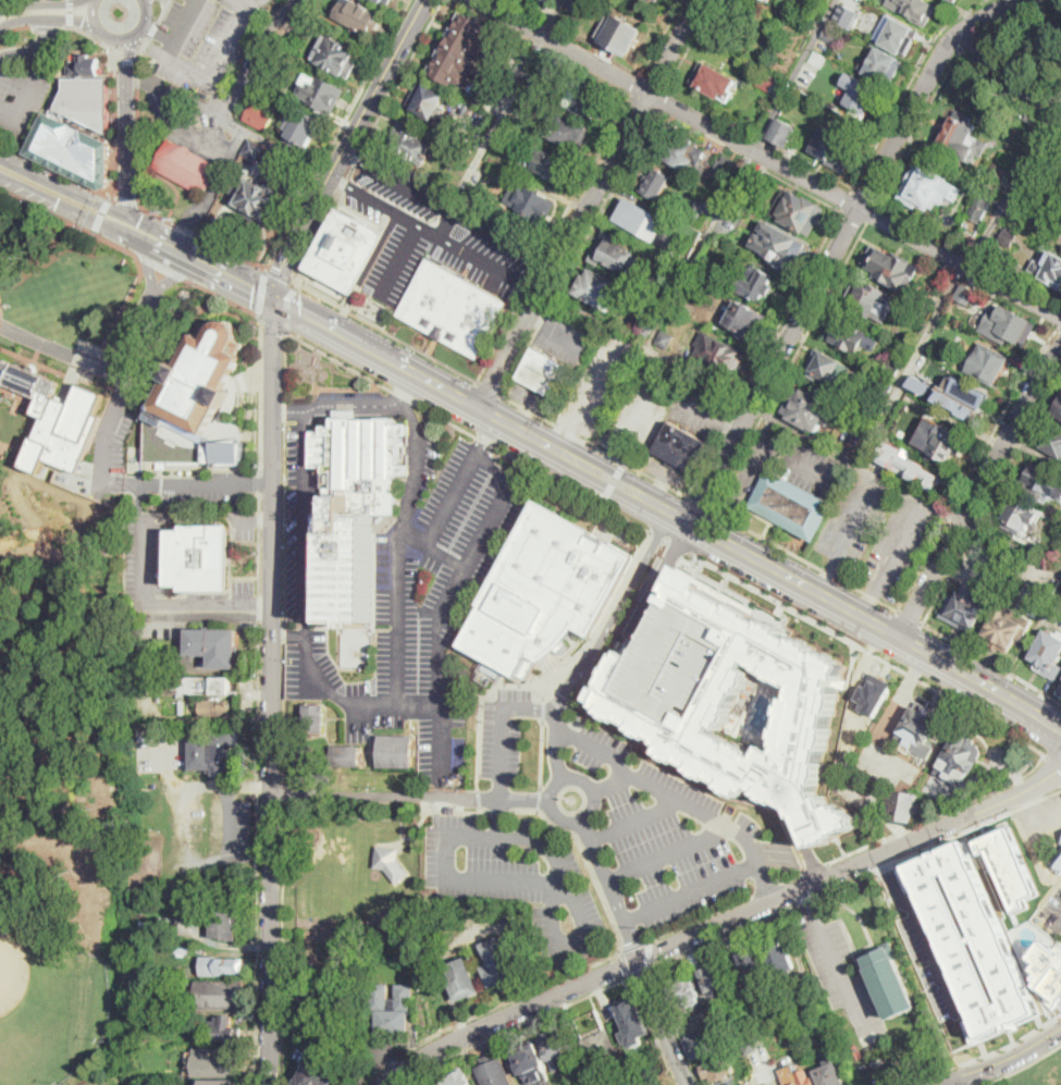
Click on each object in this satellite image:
road: (1, 0)
road: (248, 0)
building: (656, 0)
building: (770, 0)
building: (386, 1)
building: (548, 1)
building: (652, 1)
building: (825, 1)
building: (955, 1)
road: (47, 2)
road: (166, 2)
building: (573, 3)
road: (42, 4)
building: (305, 7)
building: (914, 10)
road: (164, 11)
road: (71, 13)
building: (357, 15)
road: (552, 17)
road: (47, 19)
building: (841, 21)
road: (47, 27)
road: (16, 28)
road: (153, 29)
road: (160, 33)
building: (898, 34)
building: (621, 35)
building: (830, 35)
park: (989, 35)
road: (47, 36)
road: (662, 36)
road: (1001, 37)
road: (96, 38)
road: (120, 39)
road: (689, 44)
park: (1040, 48)
road: (129, 51)
building: (464, 51)
road: (21, 57)
building: (338, 58)
building: (817, 59)
road: (257, 60)
road: (138, 61)
road: (126, 62)
building: (85, 65)
building: (884, 66)
road: (199, 72)
road: (793, 75)
road: (942, 75)
road: (1000, 76)
building: (270, 77)
road: (140, 79)
building: (714, 81)
building: (542, 82)
building: (766, 82)
road: (636, 84)
parking lot: (26, 86)
road: (905, 87)
building: (320, 94)
building: (862, 95)
road: (25, 98)
building: (588, 98)
building: (86, 99)
road: (661, 99)
building: (427, 101)
building: (465, 107)
building: (259, 118)
building: (303, 127)
building: (569, 132)
road: (115, 133)
road: (336, 133)
building: (782, 133)
building: (962, 138)
road: (366, 140)
road: (127, 141)
building: (409, 144)
road: (137, 146)
road: (346, 147)
road: (289, 149)
building: (678, 149)
building: (835, 149)
building: (255, 150)
building: (73, 151)
road: (232, 151)
building: (460, 156)
road: (769, 159)
building: (1059, 163)
building: (186, 165)
building: (547, 165)
building: (726, 168)
road: (59, 172)
building: (998, 177)
building: (754, 180)
road: (1014, 182)
building: (656, 183)
road: (799, 186)
building: (926, 188)
road: (864, 196)
building: (1025, 196)
building: (1058, 196)
building: (258, 198)
road: (89, 199)
traffic signals: (59, 200)
road: (129, 200)
road: (848, 200)
building: (532, 201)
road: (724, 201)
road: (374, 202)
road: (589, 202)
road: (202, 205)
road: (893, 209)
building: (980, 209)
road: (872, 211)
road: (447, 212)
building: (798, 212)
road: (86, 213)
road: (102, 213)
road: (854, 215)
building: (962, 215)
building: (1028, 218)
road: (70, 220)
building: (642, 220)
traffic signals: (139, 223)
road: (201, 235)
road: (552, 236)
building: (1008, 237)
building: (778, 244)
building: (1036, 245)
road: (837, 247)
building: (346, 250)
road: (577, 250)
building: (613, 251)
road: (470, 255)
road: (400, 262)
road: (150, 266)
road: (162, 266)
building: (892, 268)
building: (707, 269)
building: (1049, 269)
building: (676, 270)
road: (175, 272)
road: (224, 274)
road: (277, 274)
building: (631, 274)
building: (757, 283)
road: (530, 288)
building: (599, 289)
road: (261, 292)
building: (638, 294)
building: (965, 294)
road: (222, 296)
traffic signals: (275, 299)
building: (862, 299)
road: (127, 301)
road: (287, 306)
building: (454, 308)
road: (2, 315)
building: (743, 321)
road: (536, 322)
building: (649, 323)
road: (274, 324)
road: (1060, 324)
building: (1008, 325)
road: (383, 329)
road: (333, 330)
road: (926, 331)
building: (847, 334)
road: (566, 338)
building: (666, 342)
road: (127, 346)
road: (60, 347)
road: (644, 347)
road: (764, 353)
building: (721, 358)
road: (33, 359)
road: (788, 363)
building: (987, 363)
building: (890, 369)
building: (830, 370)
building: (547, 373)
road: (708, 380)
building: (199, 381)
road: (435, 383)
building: (920, 383)
road: (489, 386)
building: (884, 387)
road: (16, 393)
road: (261, 393)
building: (964, 397)
road: (390, 402)
building: (914, 404)
road: (344, 406)
road: (701, 407)
building: (810, 410)
building: (1058, 410)
road: (305, 411)
building: (55, 418)
road: (730, 423)
road: (488, 431)
road: (469, 432)
road: (567, 437)
building: (1051, 441)
road: (816, 442)
road: (594, 445)
building: (943, 445)
building: (682, 447)
road: (421, 463)
road: (755, 463)
building: (908, 464)
road: (974, 465)
road: (260, 481)
building: (1041, 481)
road: (613, 482)
road: (140, 483)
road: (262, 483)
road: (979, 490)
road: (902, 492)
road: (990, 496)
road: (718, 498)
building: (355, 501)
road: (700, 502)
building: (792, 505)
road: (942, 513)
building: (1019, 517)
road: (856, 521)
road: (656, 534)
road: (666, 541)
road: (1012, 545)
road: (900, 546)
road: (679, 547)
road: (752, 556)
building: (200, 557)
road: (285, 557)
road: (805, 558)
parking lot: (983, 565)
road: (465, 566)
road: (978, 568)
road: (658, 576)
road: (825, 578)
building: (546, 590)
road: (139, 599)
road: (262, 601)
road: (869, 603)
building: (966, 607)
road: (614, 611)
road: (645, 615)
road: (910, 617)
building: (1008, 628)
road: (289, 634)
park: (65, 645)
building: (214, 646)
road: (869, 650)
road: (260, 652)
road: (439, 655)
building: (1049, 655)
parking garage: (677, 659)
road: (992, 662)
building: (491, 669)
building: (199, 686)
road: (332, 687)
road: (272, 692)
building: (875, 694)
building: (731, 698)
road: (481, 701)
building: (206, 707)
road: (544, 708)
road: (890, 713)
building: (314, 719)
road: (1043, 723)
road: (503, 726)
building: (920, 728)
road: (436, 741)
road: (557, 743)
building: (396, 751)
building: (214, 753)
road: (543, 753)
building: (306, 756)
building: (347, 756)
building: (959, 759)
road: (1053, 759)
road: (82, 781)
road: (557, 781)
road: (612, 782)
road: (283, 792)
road: (410, 797)
road: (479, 798)
road: (540, 799)
road: (679, 802)
building: (903, 805)
road: (441, 807)
road: (499, 809)
road: (271, 812)
road: (1037, 813)
road: (634, 821)
road: (920, 823)
road: (667, 854)
road: (585, 856)
building: (390, 863)
building: (1013, 863)
building: (1057, 863)
road: (854, 878)
road: (558, 880)
road: (553, 884)
road: (768, 887)
road: (609, 890)
road: (690, 891)
road: (806, 903)
building: (225, 917)
road: (701, 917)
road: (1056, 918)
road: (718, 925)
road: (924, 928)
building: (972, 938)
road: (283, 942)
road: (636, 944)
road: (257, 948)
building: (181, 949)
road: (650, 953)
building: (779, 955)
building: (310, 961)
building: (498, 962)
road: (626, 962)
building: (754, 963)
building: (1051, 963)
building: (227, 966)
road: (639, 972)
road: (839, 977)
building: (462, 978)
building: (889, 978)
building: (719, 981)
building: (218, 994)
building: (686, 994)
building: (308, 1001)
park: (49, 1008)
building: (392, 1009)
building: (355, 1011)
road: (485, 1011)
building: (704, 1015)
building: (166, 1016)
road: (664, 1022)
building: (633, 1024)
road: (514, 1026)
road: (675, 1026)
building: (824, 1029)
building: (227, 1031)
road: (653, 1031)
building: (592, 1032)
building: (732, 1036)
building: (702, 1043)
building: (335, 1044)
building: (753, 1045)
building: (559, 1049)
building: (601, 1049)
building: (877, 1059)
road: (983, 1059)
road: (1000, 1062)
building: (652, 1063)
building: (222, 1064)
building: (532, 1065)
building: (717, 1065)
road: (1020, 1068)
building: (494, 1071)
road: (269, 1073)
building: (314, 1073)
building: (830, 1075)
building: (458, 1078)
building: (803, 1078)
building: (604, 1081)
building: (220, 1082)
road: (954, 1082)
building: (624, 1084)

